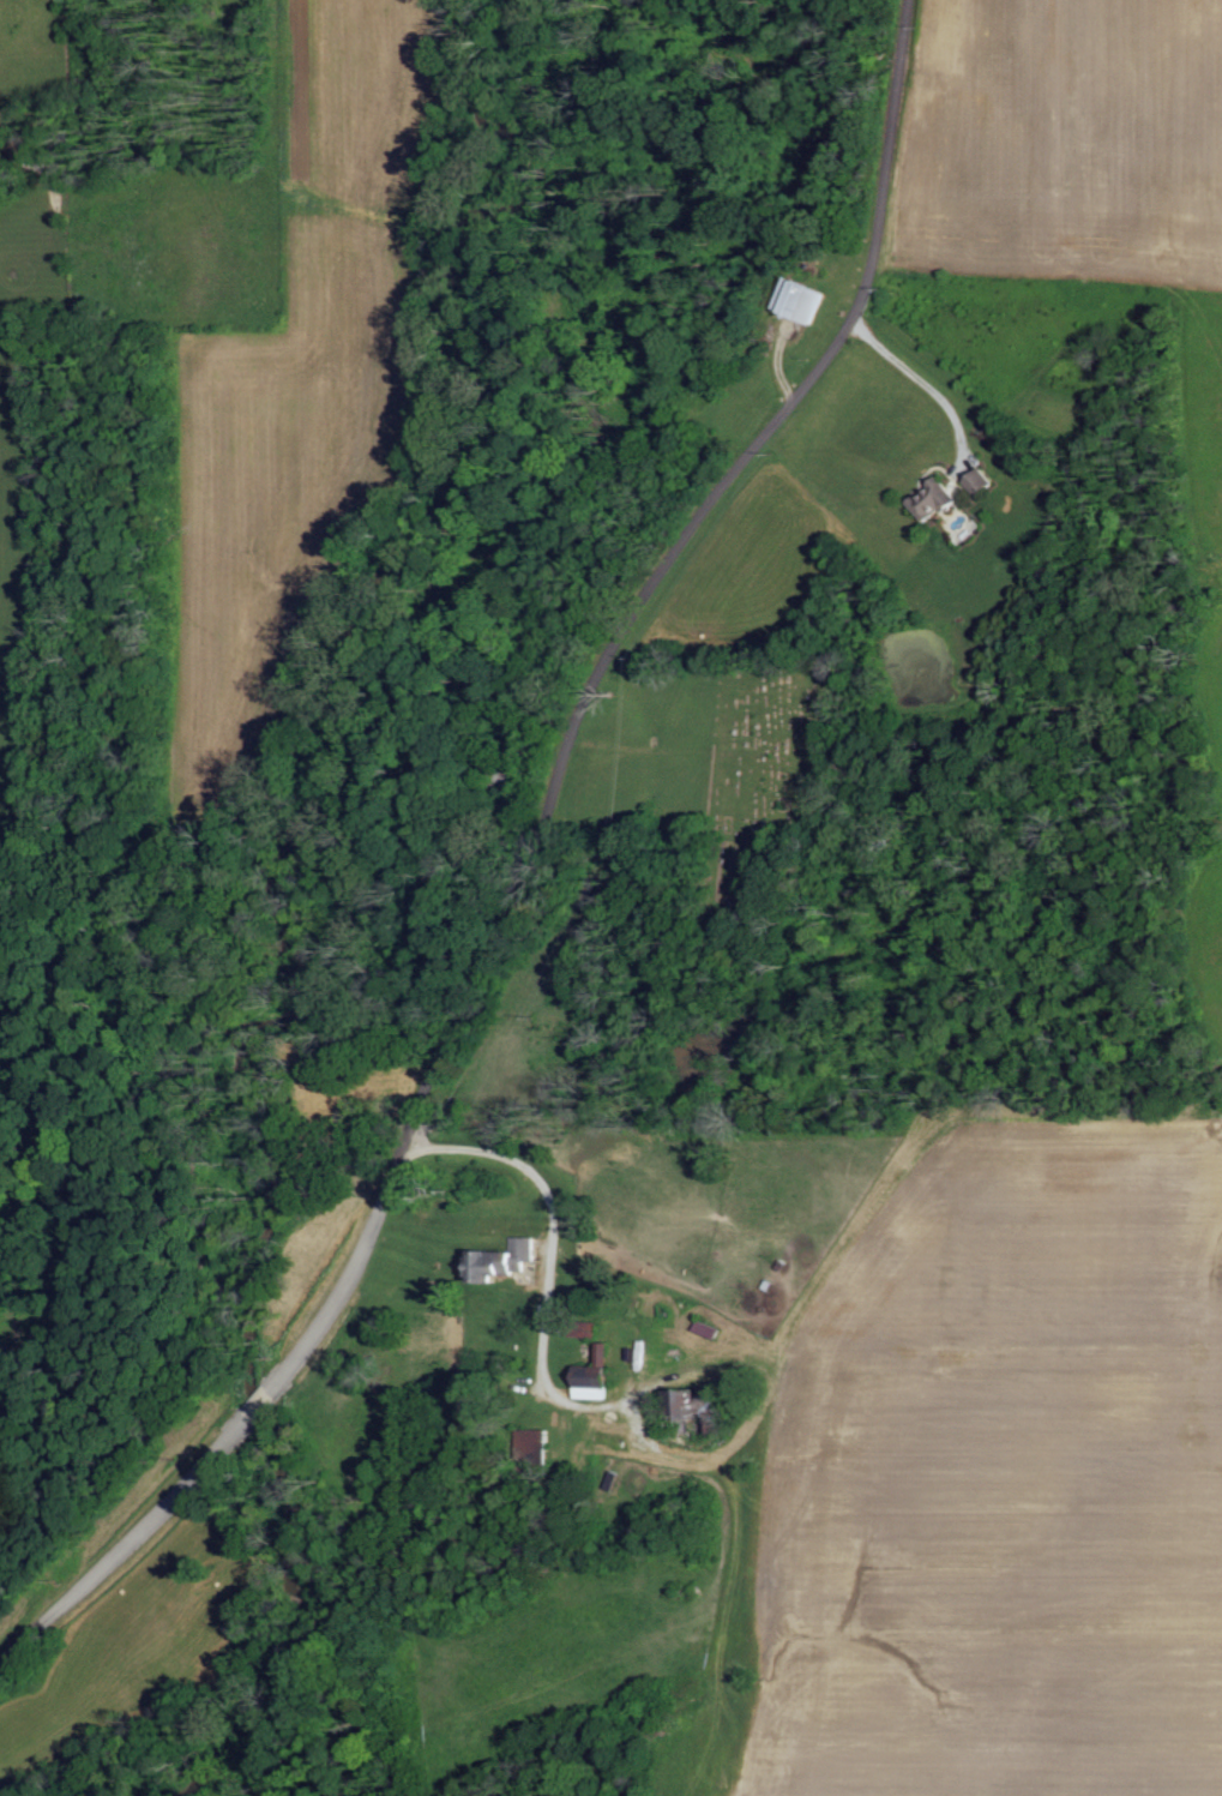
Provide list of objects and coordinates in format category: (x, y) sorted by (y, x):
building: (807, 300)
road: (923, 383)
building: (982, 482)
building: (938, 500)
road: (592, 686)
park: (767, 753)
road: (500, 1155)
building: (511, 1260)
building: (608, 1354)
building: (600, 1388)
road: (259, 1402)
building: (705, 1407)
building: (536, 1441)
road: (124, 1543)

